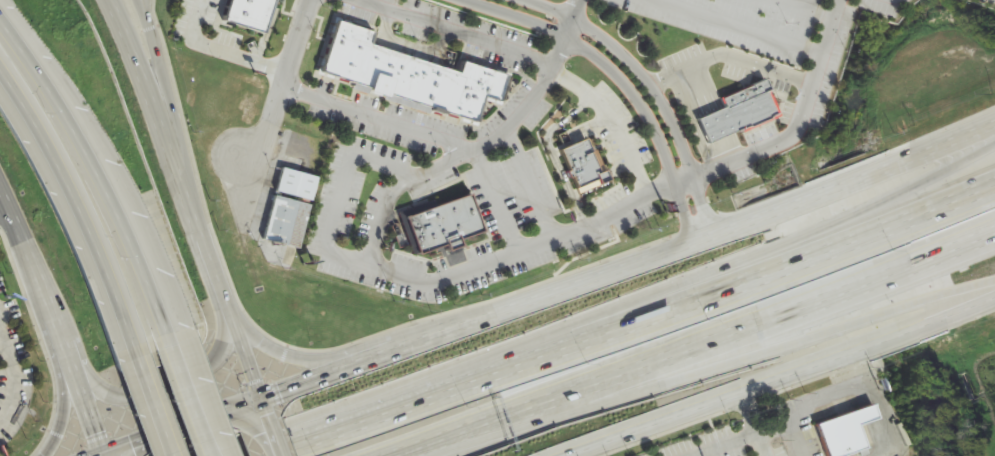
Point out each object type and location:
road: (150, 13)
road: (574, 20)
road: (455, 32)
road: (158, 67)
building: (407, 73)
road: (618, 81)
road: (282, 83)
road: (652, 84)
road: (524, 106)
building: (744, 112)
road: (610, 124)
road: (813, 125)
building: (583, 165)
road: (96, 168)
road: (529, 182)
building: (299, 185)
road: (190, 198)
road: (497, 199)
road: (78, 204)
road: (7, 206)
road: (7, 217)
building: (441, 221)
building: (288, 222)
road: (753, 250)
road: (631, 263)
road: (366, 264)
road: (844, 318)
road: (627, 324)
road: (59, 336)
road: (690, 343)
road: (282, 350)
road: (790, 369)
road: (11, 379)
road: (156, 386)
road: (873, 388)
road: (64, 392)
road: (191, 396)
traffic signals: (263, 400)
road: (153, 401)
road: (544, 410)
road: (267, 413)
road: (750, 423)
road: (182, 426)
building: (844, 428)
road: (800, 438)
road: (746, 439)
road: (276, 441)
traffic signals: (102, 452)
road: (96, 454)
road: (102, 454)

